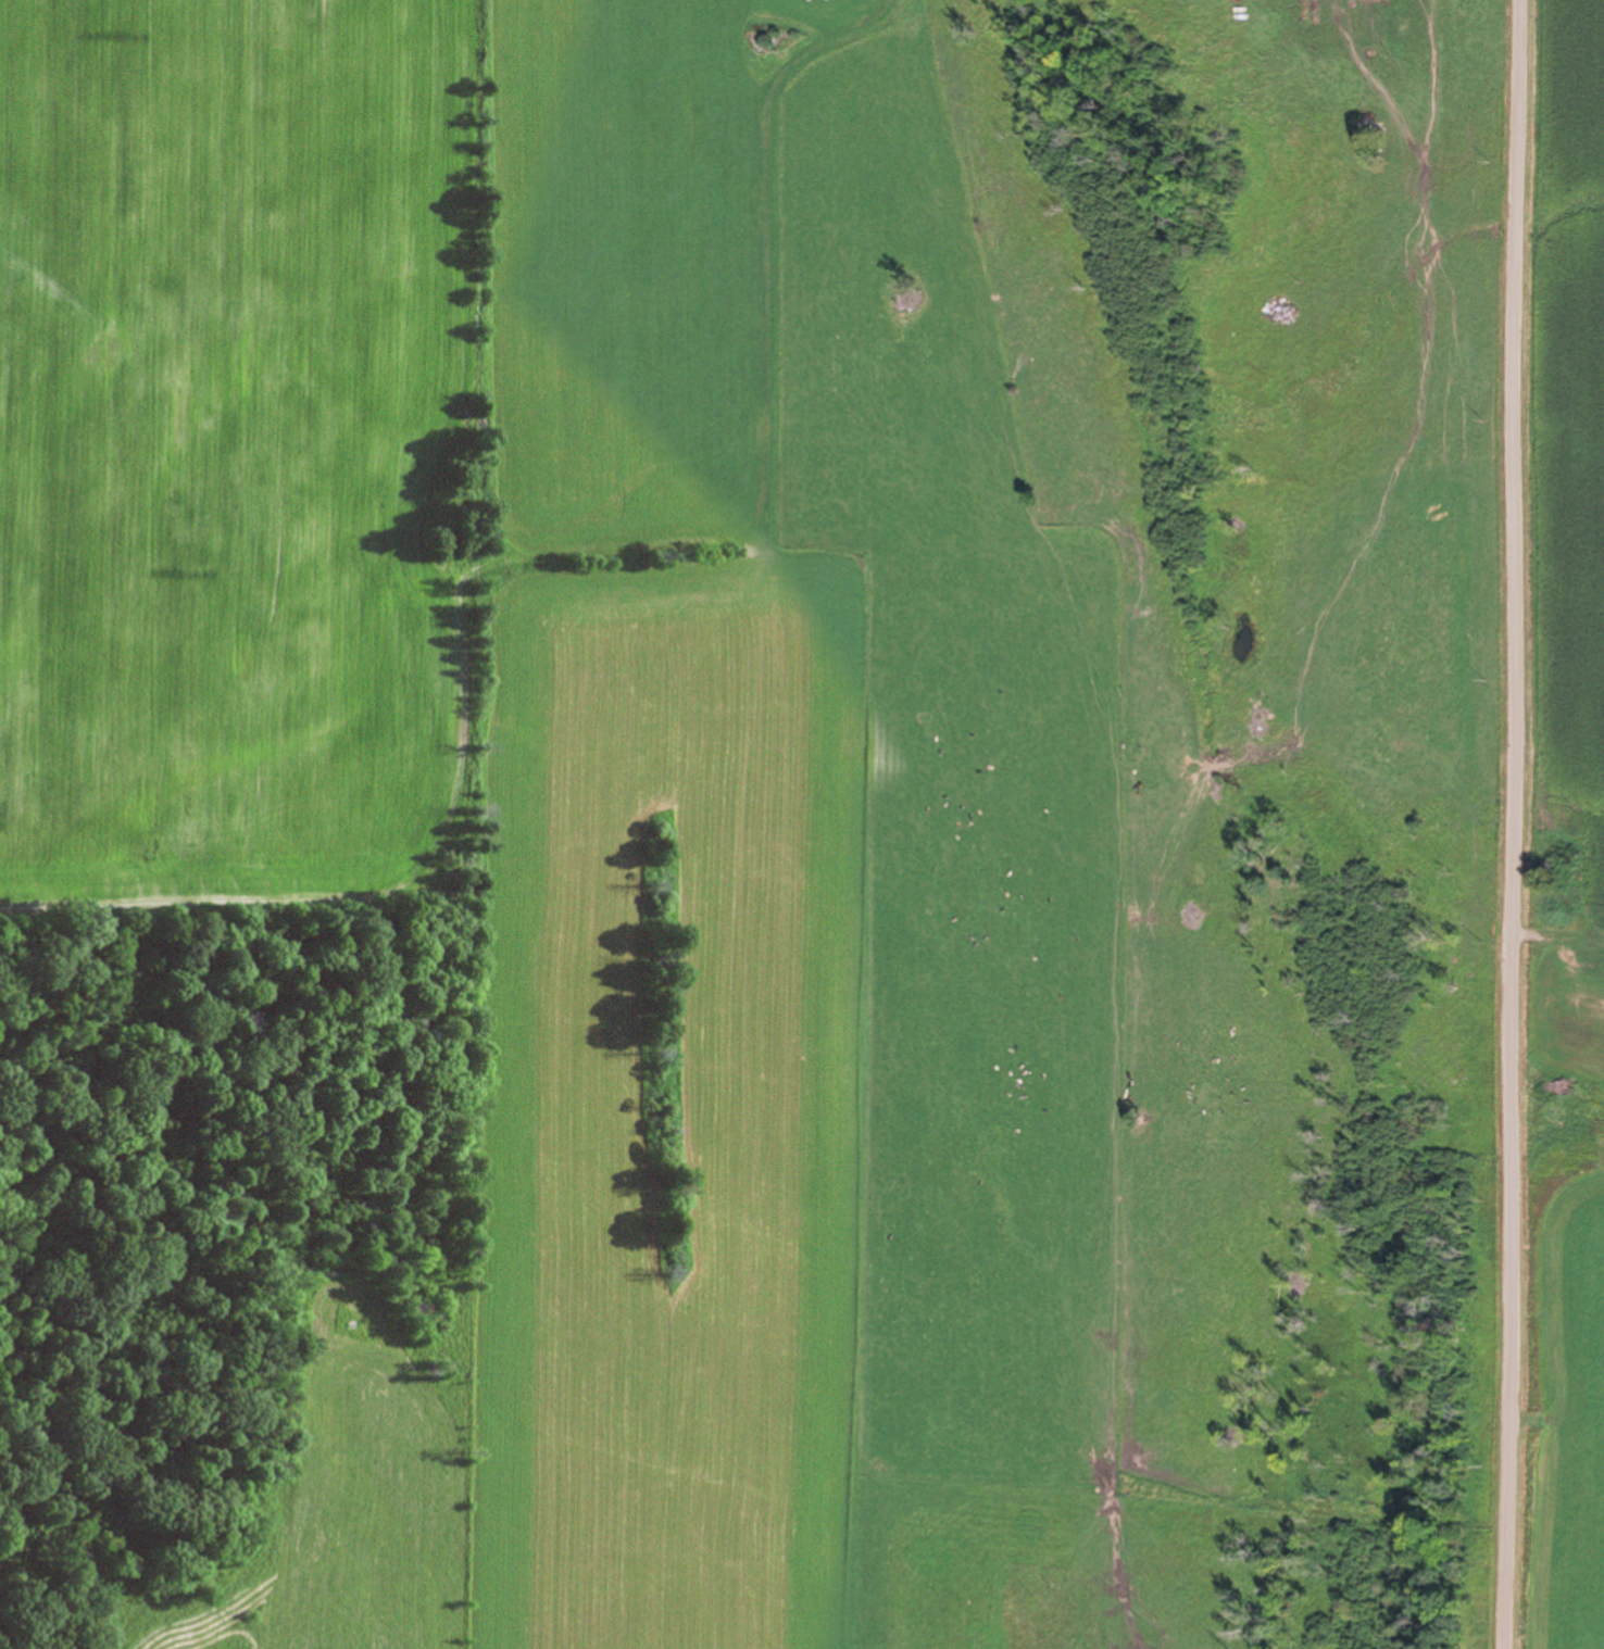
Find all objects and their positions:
road: (1519, 824)

